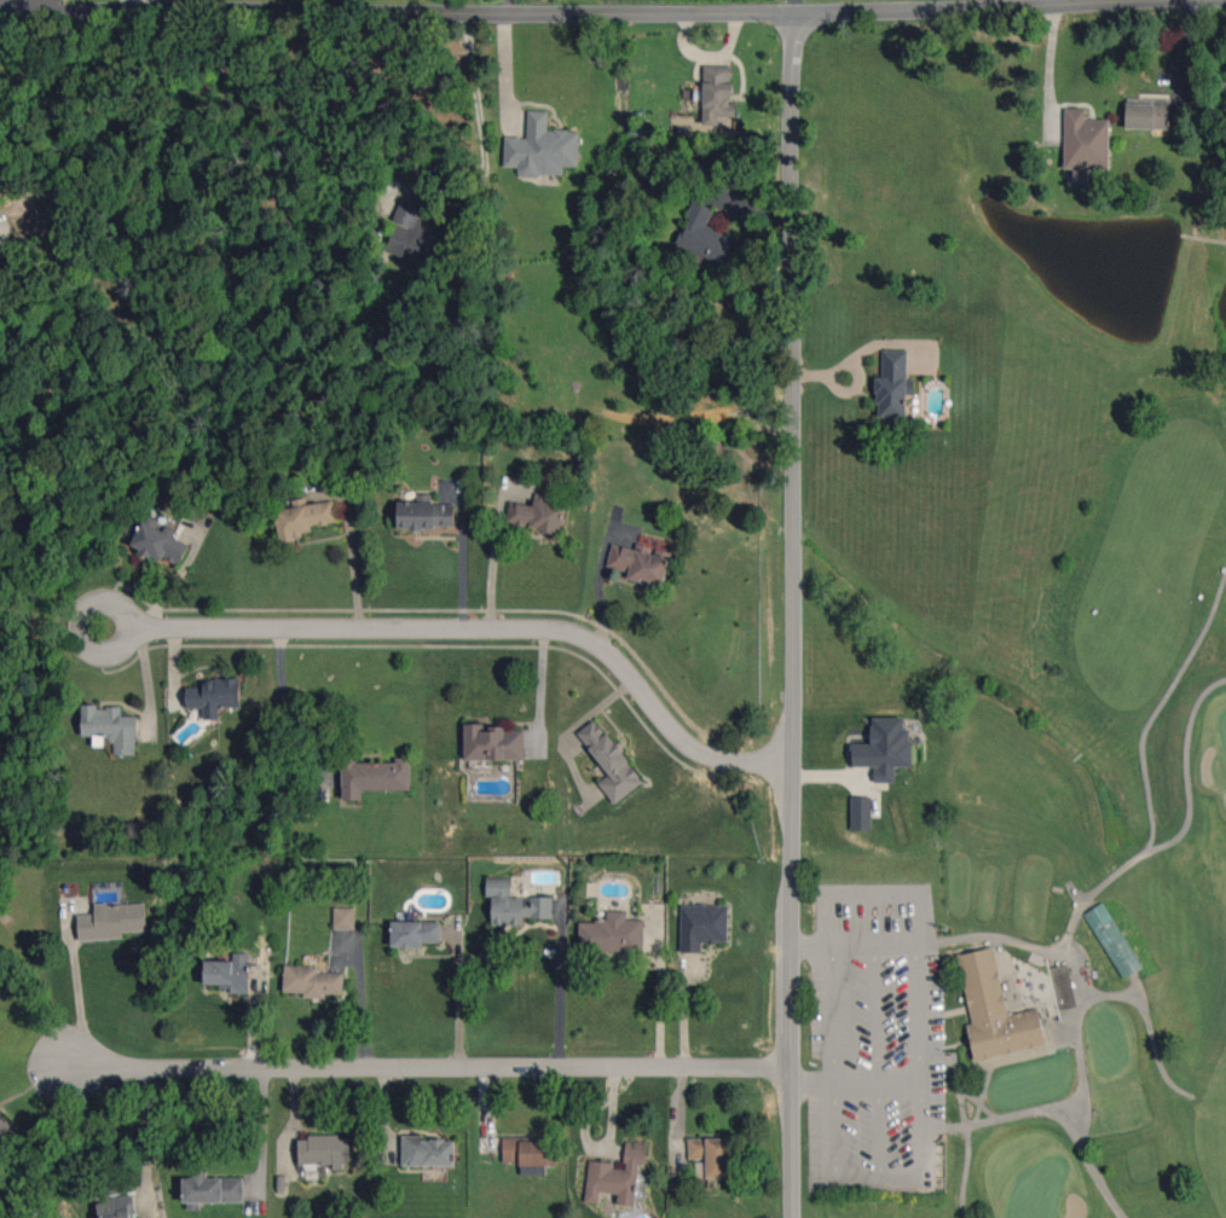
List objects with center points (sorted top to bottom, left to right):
road: (5, 4)
road: (156, 4)
road: (798, 5)
road: (509, 6)
road: (536, 11)
road: (1046, 62)
building: (717, 93)
road: (478, 126)
building: (1085, 143)
building: (542, 147)
building: (407, 234)
building: (702, 234)
building: (894, 383)
building: (538, 512)
building: (426, 515)
building: (305, 517)
building: (160, 543)
building: (641, 562)
road: (352, 564)
road: (792, 613)
road: (81, 622)
road: (487, 627)
building: (214, 696)
road: (285, 704)
building: (111, 726)
park: (1224, 726)
building: (495, 742)
building: (885, 748)
building: (611, 761)
building: (372, 776)
park: (1054, 779)
building: (861, 813)
building: (498, 886)
building: (520, 909)
road: (921, 909)
building: (343, 917)
building: (111, 921)
building: (702, 926)
building: (415, 933)
building: (611, 933)
building: (1112, 940)
building: (229, 973)
building: (312, 981)
road: (562, 987)
building: (1060, 987)
road: (1138, 992)
road: (654, 998)
road: (459, 999)
road: (87, 1005)
building: (991, 1014)
park: (1106, 1042)
parking lot: (874, 1043)
road: (832, 1056)
road: (874, 1056)
road: (916, 1056)
road: (422, 1066)
road: (854, 1080)
park: (1031, 1081)
building: (2, 1125)
road: (146, 1127)
building: (324, 1150)
building: (427, 1150)
building: (530, 1154)
building: (712, 1154)
road: (878, 1173)
building: (617, 1174)
building: (212, 1188)
park: (1036, 1191)
building: (116, 1207)

